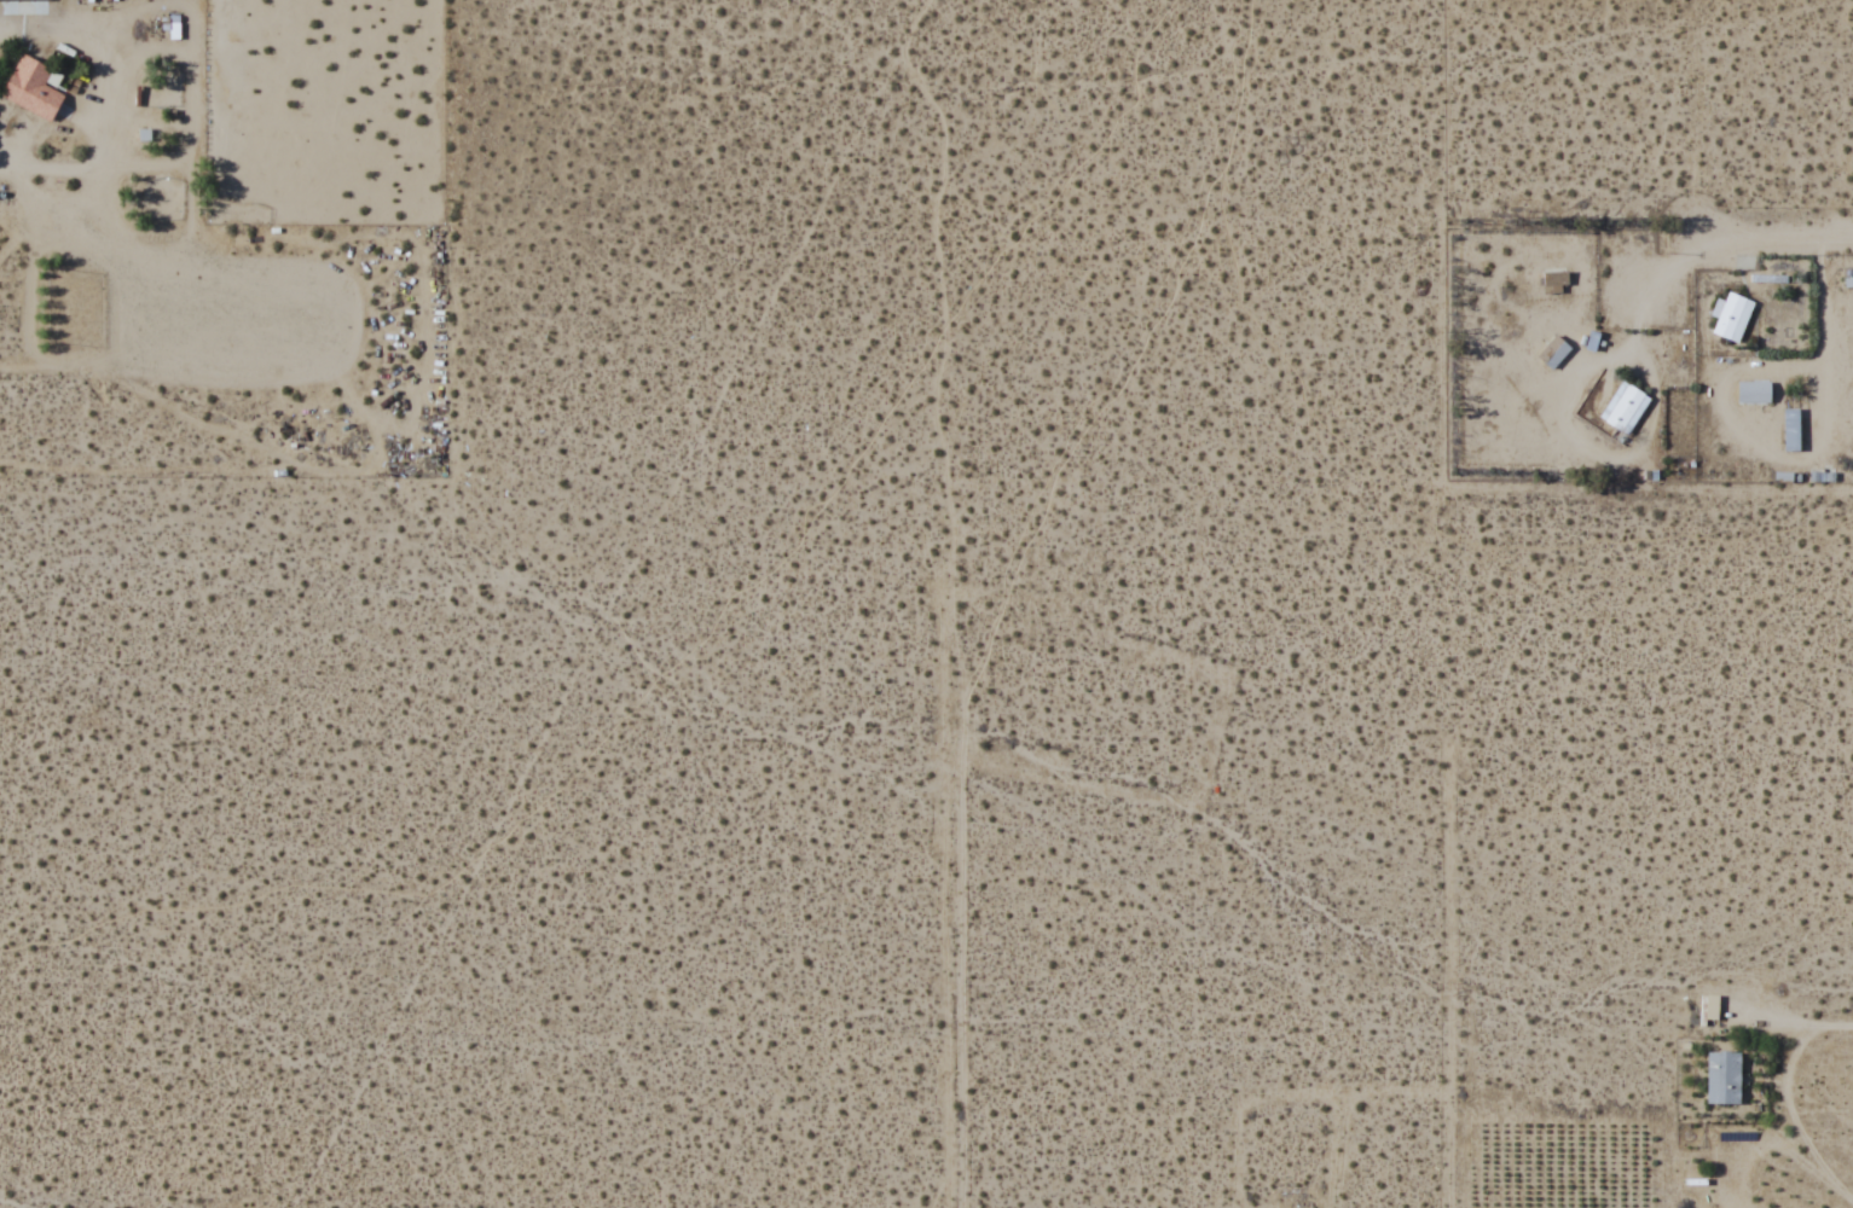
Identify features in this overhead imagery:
building: (13, 21)
building: (31, 89)
road: (1768, 242)
building: (1553, 283)
building: (1731, 316)
building: (1551, 353)
building: (1751, 391)
building: (1623, 407)
building: (1789, 429)
building: (1722, 1078)

